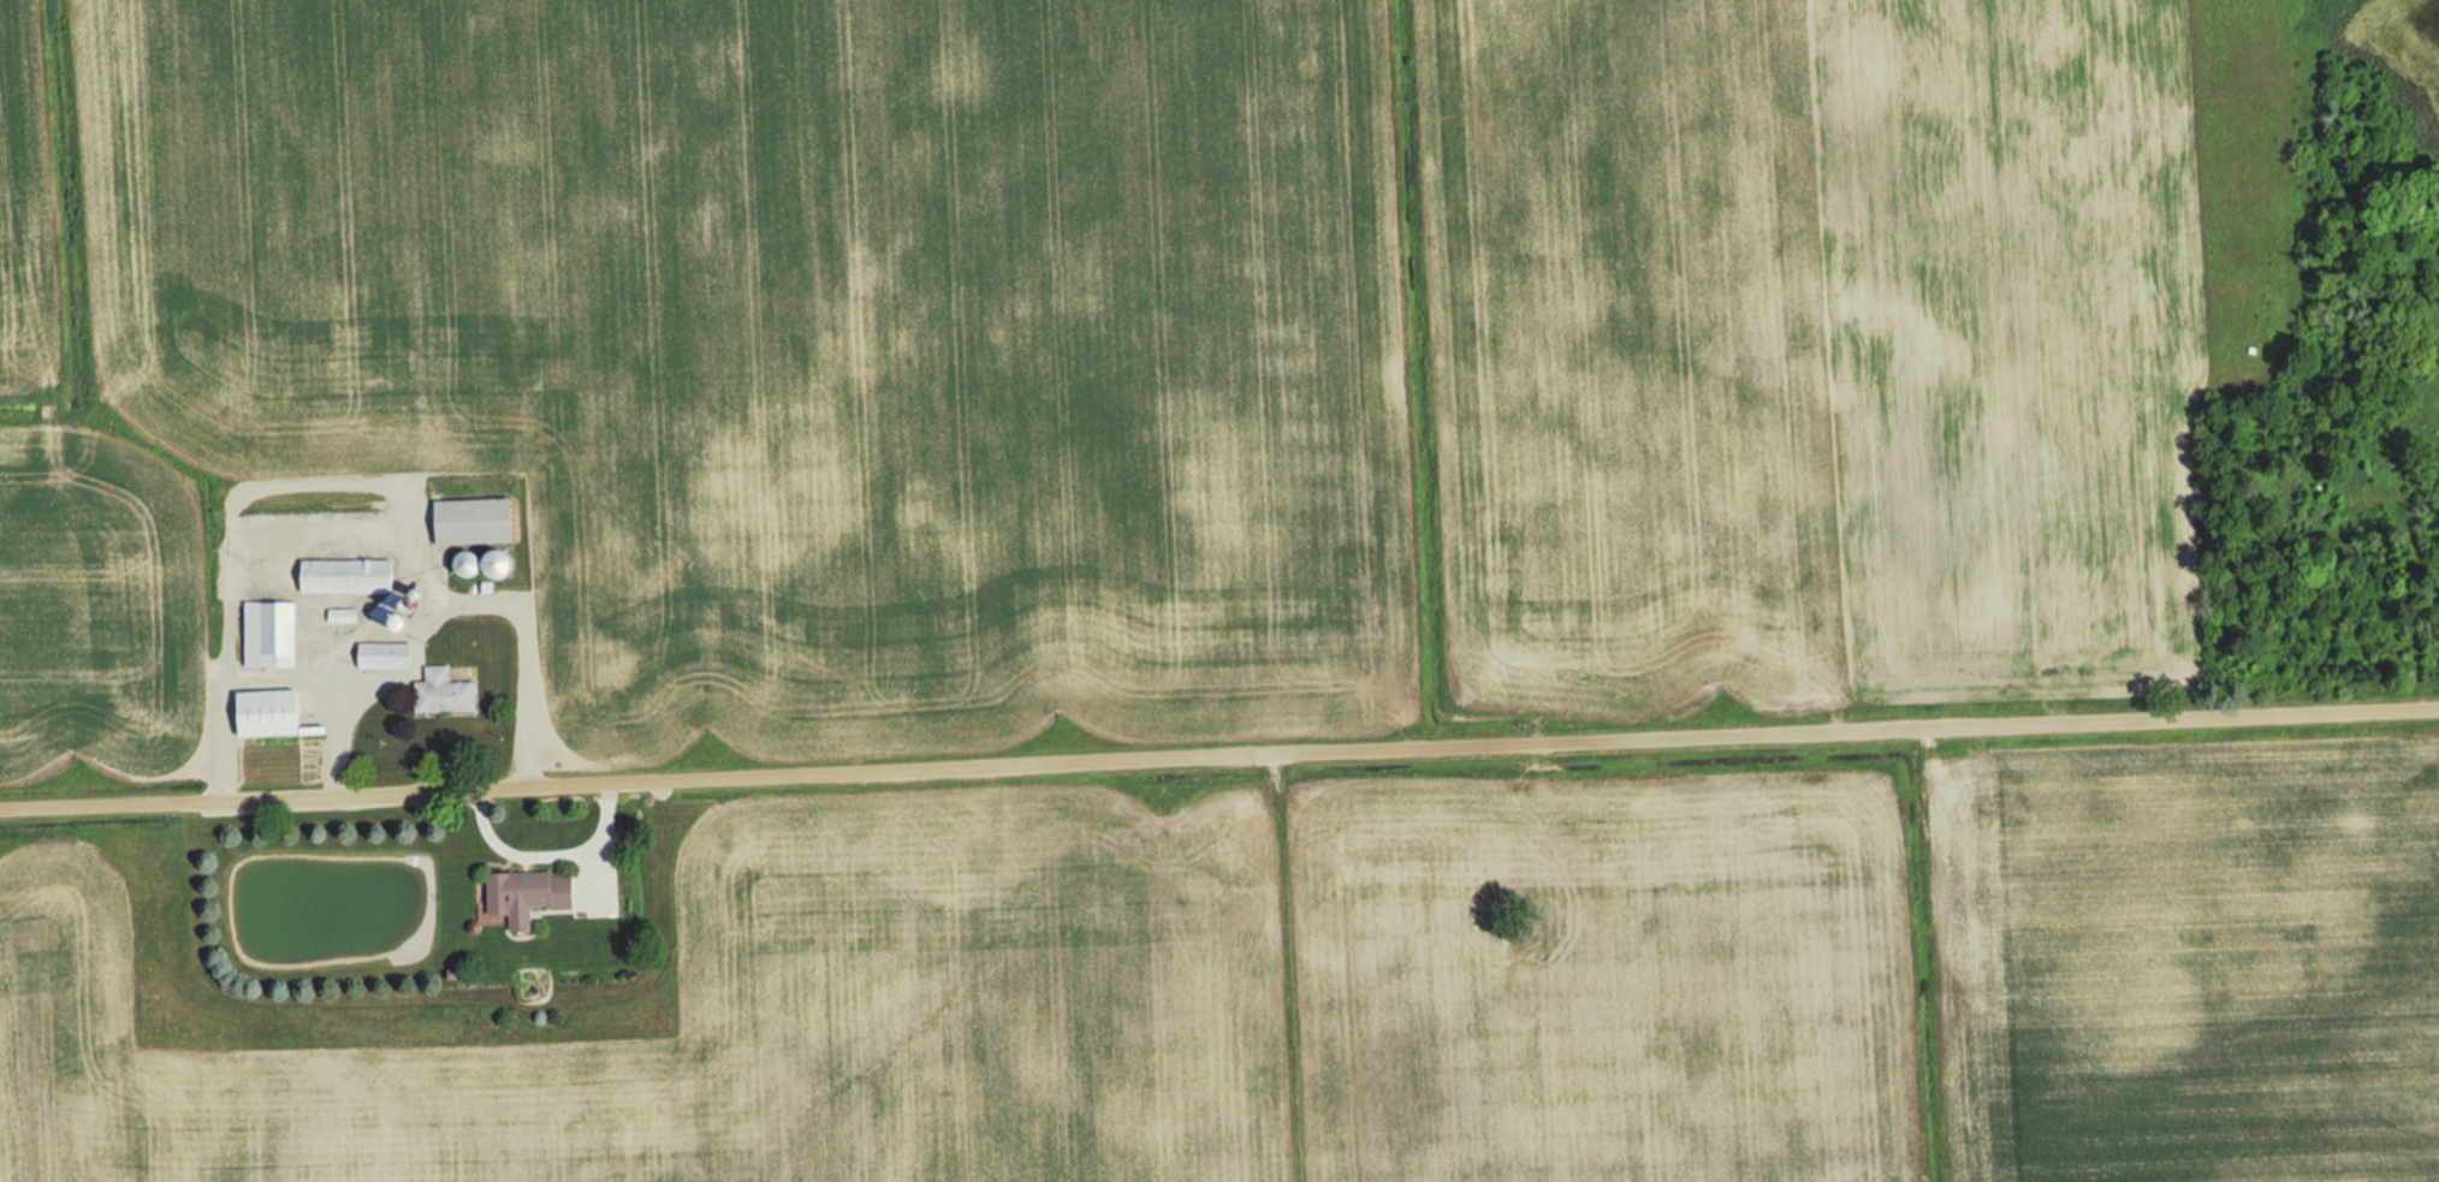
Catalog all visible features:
building: (477, 521)
building: (474, 563)
building: (508, 564)
building: (351, 576)
building: (390, 611)
building: (272, 635)
building: (387, 657)
building: (447, 693)
building: (273, 713)
road: (1218, 754)
building: (533, 895)

